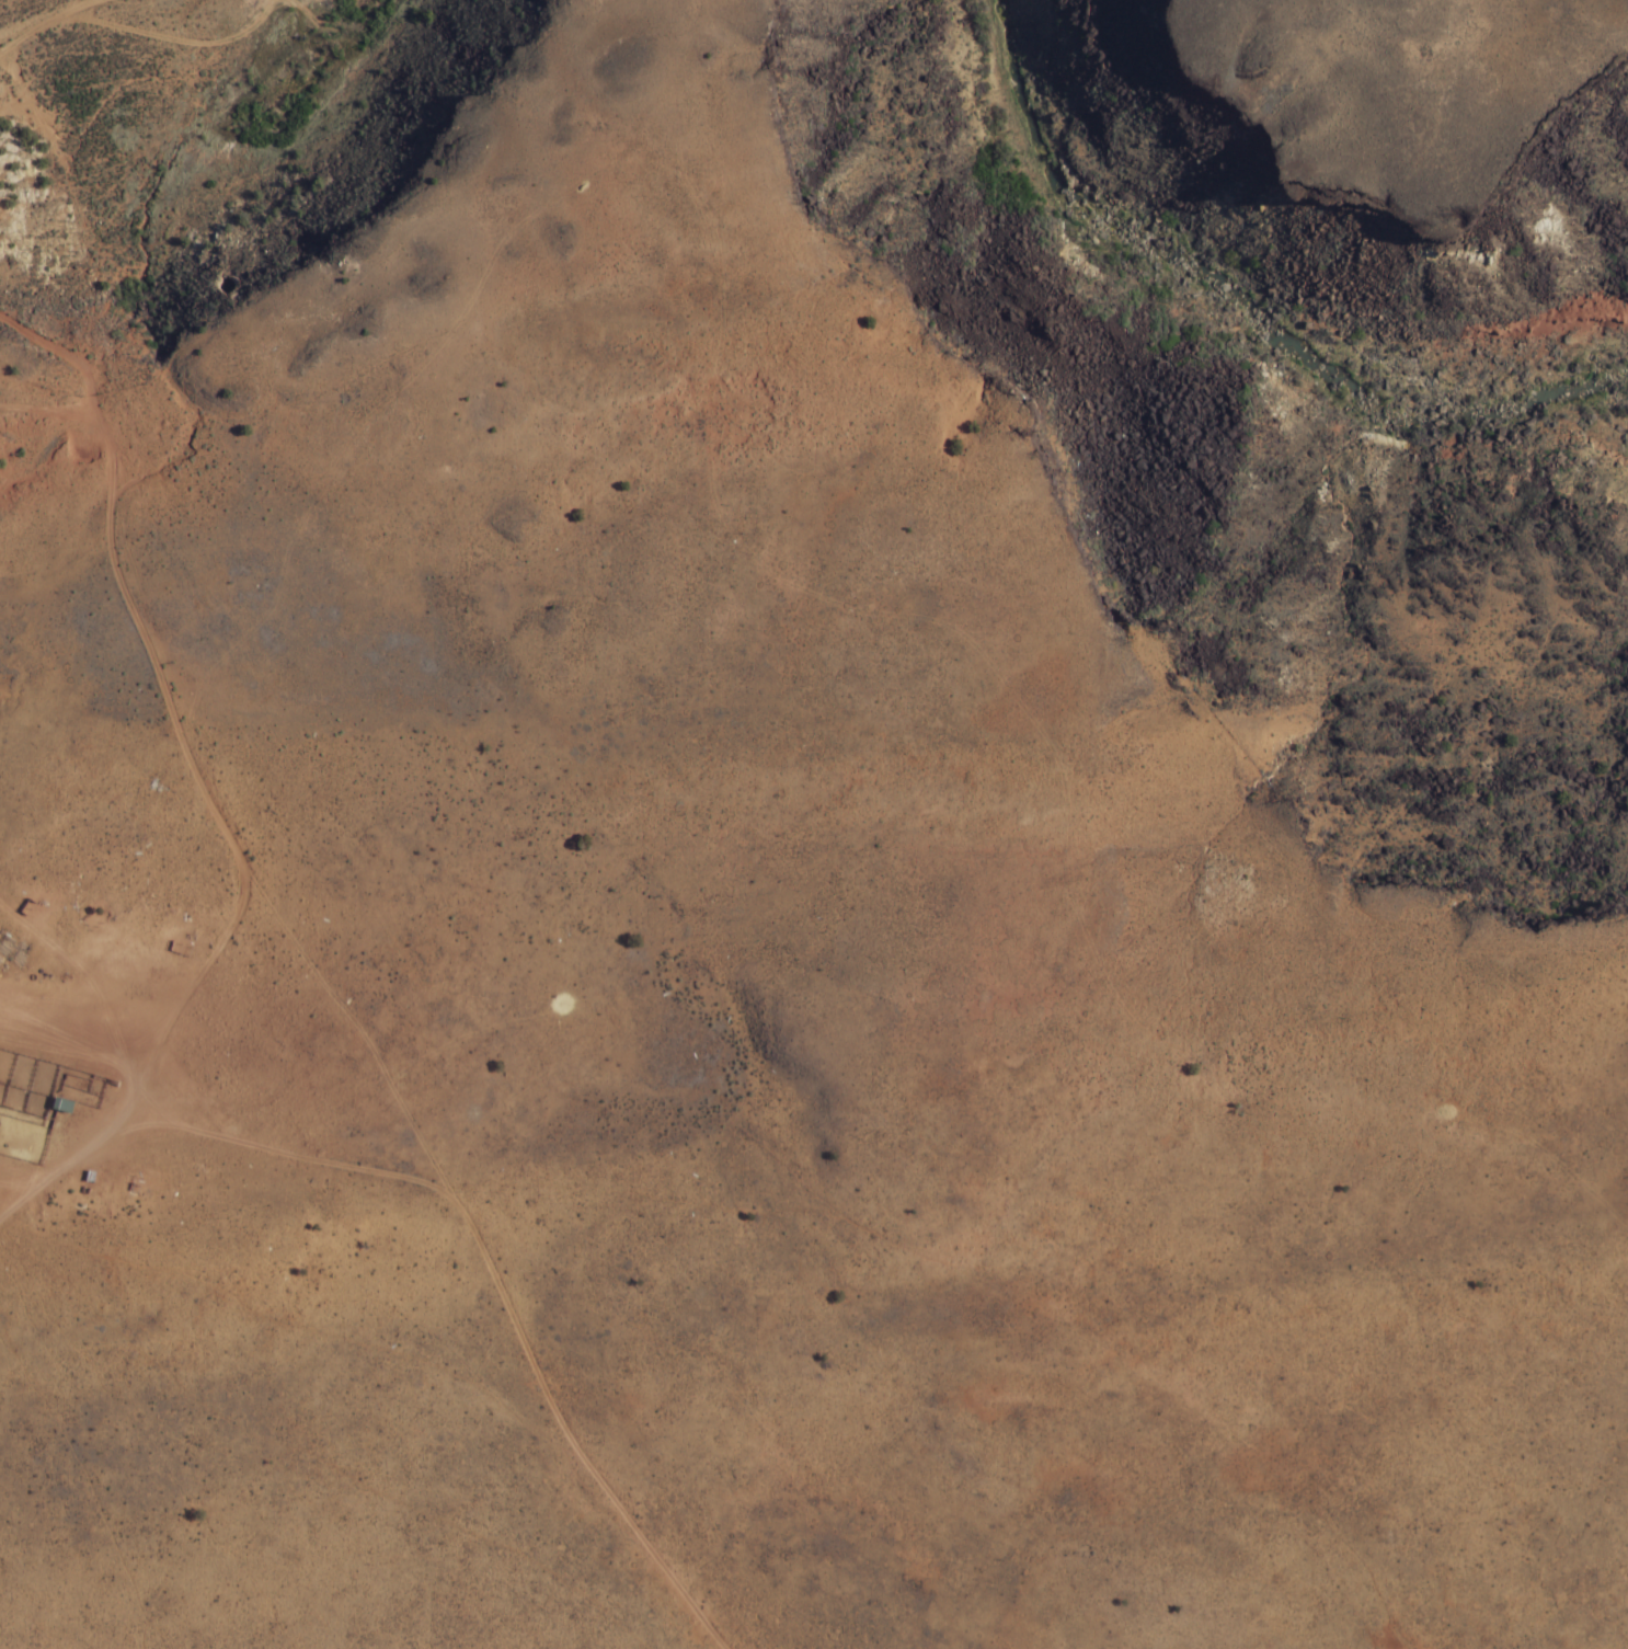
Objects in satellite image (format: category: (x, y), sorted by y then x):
road: (48, 18)
river: (1233, 308)
road: (204, 775)

